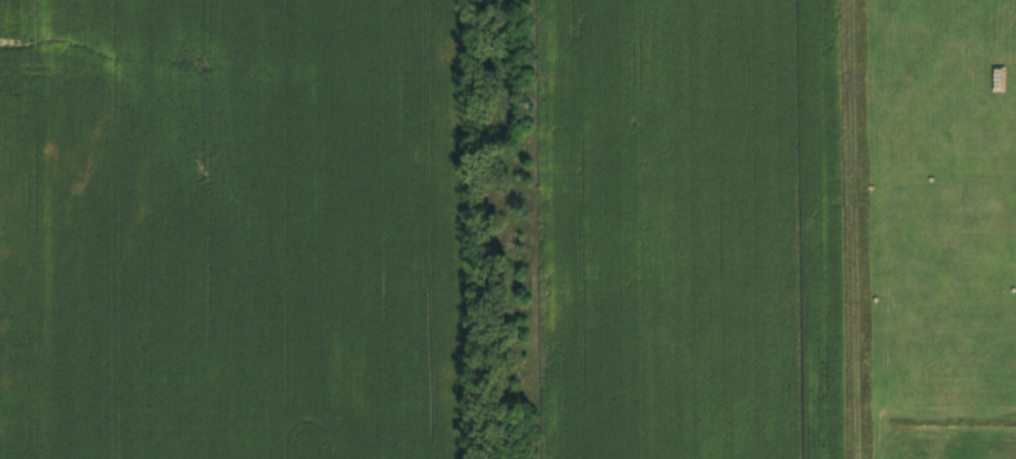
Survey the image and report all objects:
road: (855, 229)

